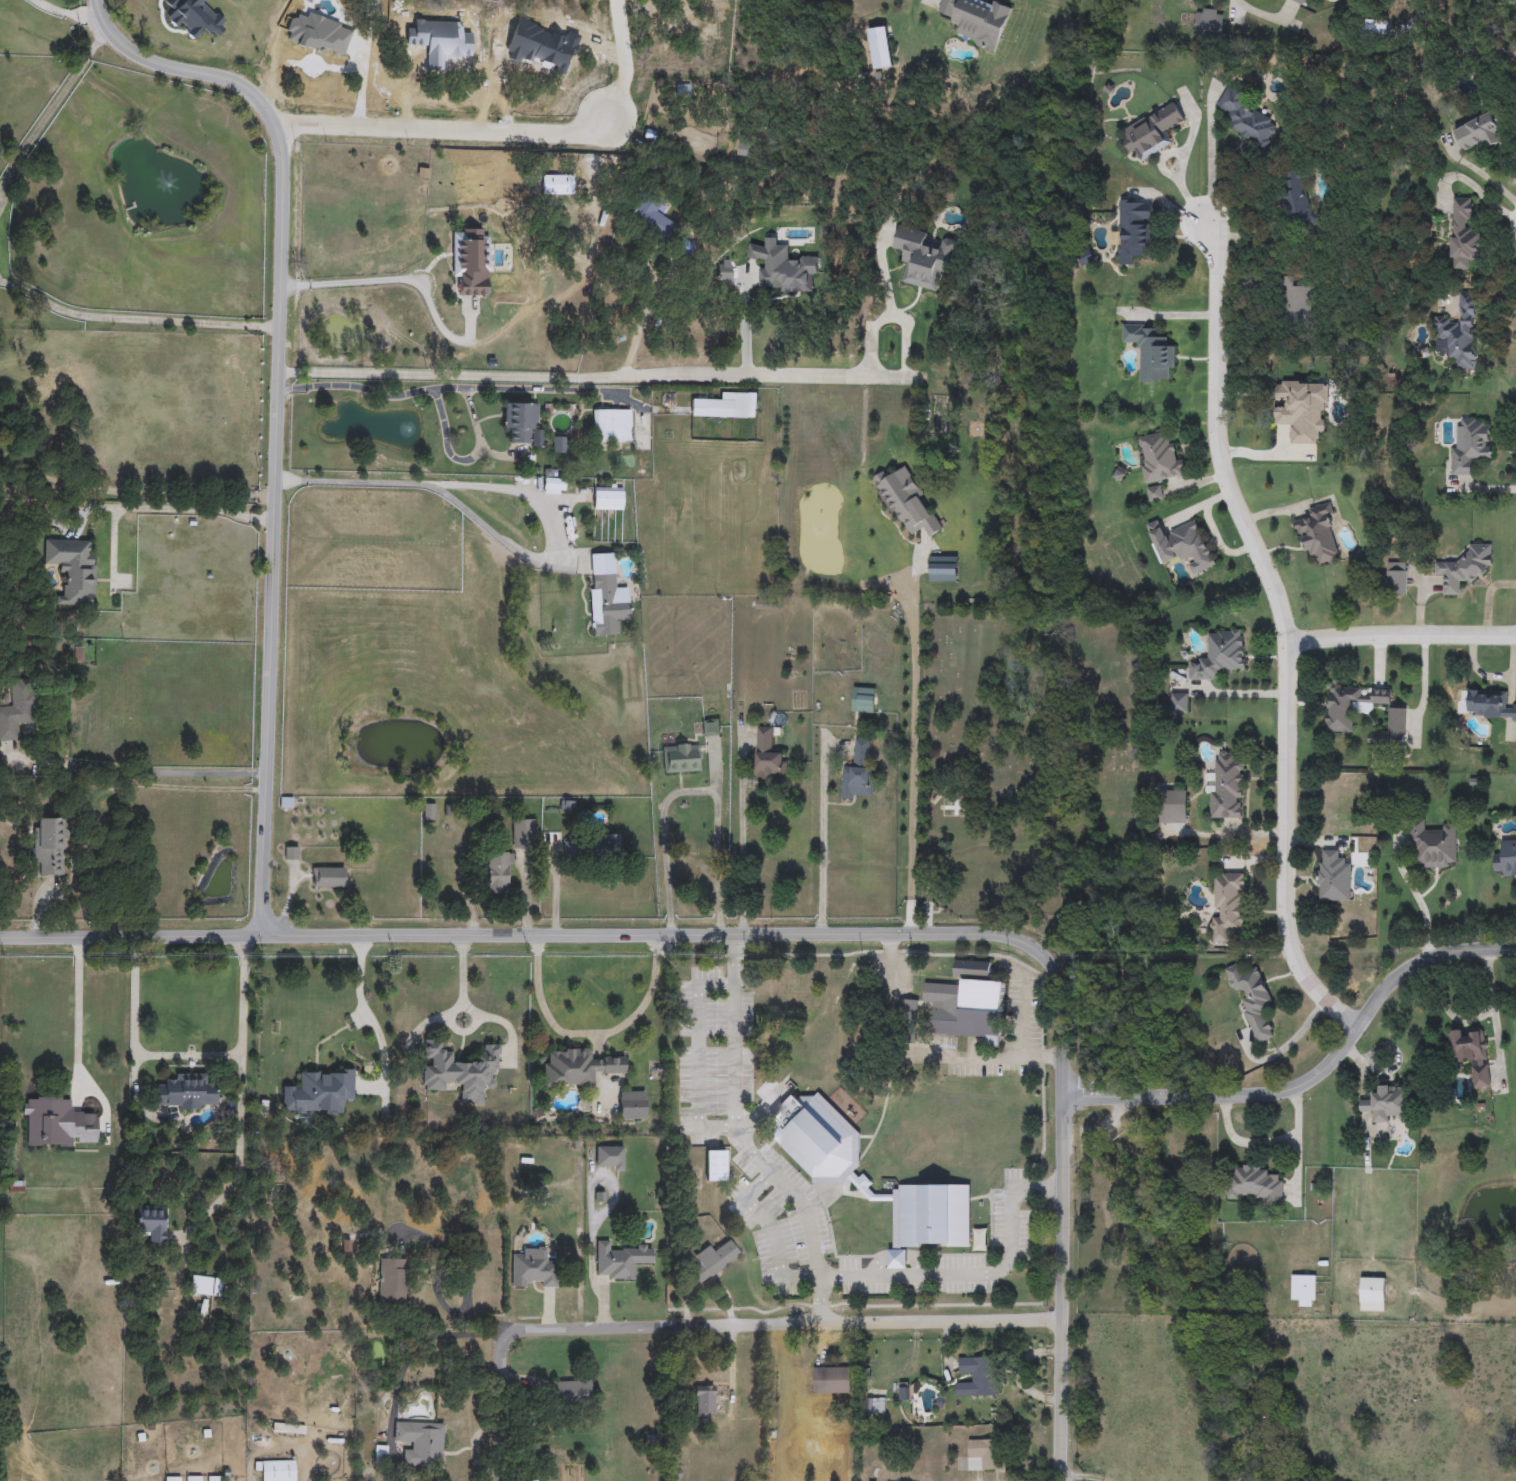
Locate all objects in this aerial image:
building: (1303, 2)
road: (1257, 14)
road: (66, 15)
building: (977, 20)
building: (681, 22)
building: (403, 23)
building: (1208, 23)
building: (1376, 26)
building: (447, 32)
road: (635, 66)
road: (51, 108)
building: (1246, 118)
road: (439, 122)
building: (1479, 131)
building: (1151, 132)
road: (1210, 152)
building: (534, 180)
building: (565, 186)
building: (1297, 204)
building: (651, 217)
building: (1133, 230)
building: (1463, 235)
building: (923, 257)
building: (1086, 258)
building: (471, 259)
road: (390, 279)
building: (1294, 300)
road: (135, 319)
road: (890, 320)
road: (741, 323)
road: (642, 324)
building: (1460, 333)
building: (1150, 351)
road: (591, 376)
road: (416, 396)
building: (726, 406)
road: (276, 413)
building: (1290, 414)
building: (521, 422)
building: (613, 425)
building: (1470, 443)
building: (559, 444)
building: (1159, 458)
road: (517, 486)
building: (554, 486)
road: (137, 494)
building: (1155, 494)
building: (608, 496)
building: (907, 503)
road: (182, 510)
building: (1317, 535)
building: (1181, 545)
building: (1465, 568)
building: (73, 569)
building: (1396, 580)
building: (608, 598)
road: (1282, 629)
road: (1399, 635)
building: (1220, 655)
building: (863, 700)
building: (1180, 703)
building: (1352, 705)
building: (1489, 705)
building: (16, 709)
building: (710, 727)
building: (1390, 730)
road: (918, 741)
building: (681, 757)
building: (768, 757)
road: (141, 769)
park: (1037, 772)
building: (859, 773)
building: (1227, 787)
building: (1173, 807)
building: (953, 808)
building: (523, 833)
road: (742, 836)
road: (664, 840)
road: (823, 840)
building: (50, 843)
road: (715, 843)
building: (1432, 845)
building: (592, 847)
building: (1505, 859)
building: (499, 872)
building: (329, 877)
building: (1334, 877)
building: (1228, 906)
road: (597, 933)
road: (887, 964)
road: (355, 999)
building: (1252, 999)
road: (1020, 1003)
building: (968, 1004)
building: (908, 1009)
road: (471, 1010)
road: (86, 1018)
road: (587, 1033)
road: (188, 1055)
building: (1469, 1055)
road: (693, 1058)
road: (985, 1058)
building: (578, 1068)
building: (459, 1071)
road: (1317, 1076)
building: (186, 1092)
building: (319, 1092)
building: (1385, 1103)
building: (632, 1105)
building: (58, 1124)
building: (817, 1139)
road: (738, 1141)
road: (1295, 1144)
road: (239, 1154)
building: (609, 1158)
building: (715, 1165)
building: (1253, 1185)
building: (928, 1219)
building: (151, 1223)
building: (619, 1261)
building: (713, 1261)
building: (533, 1269)
road: (976, 1275)
building: (392, 1282)
road: (707, 1285)
building: (204, 1286)
road: (1061, 1289)
building: (1303, 1291)
building: (1373, 1294)
road: (470, 1317)
road: (710, 1326)
building: (978, 1378)
building: (831, 1381)
building: (572, 1392)
building: (704, 1401)
building: (420, 1443)
building: (982, 1456)
building: (279, 1471)
road: (1078, 1479)

